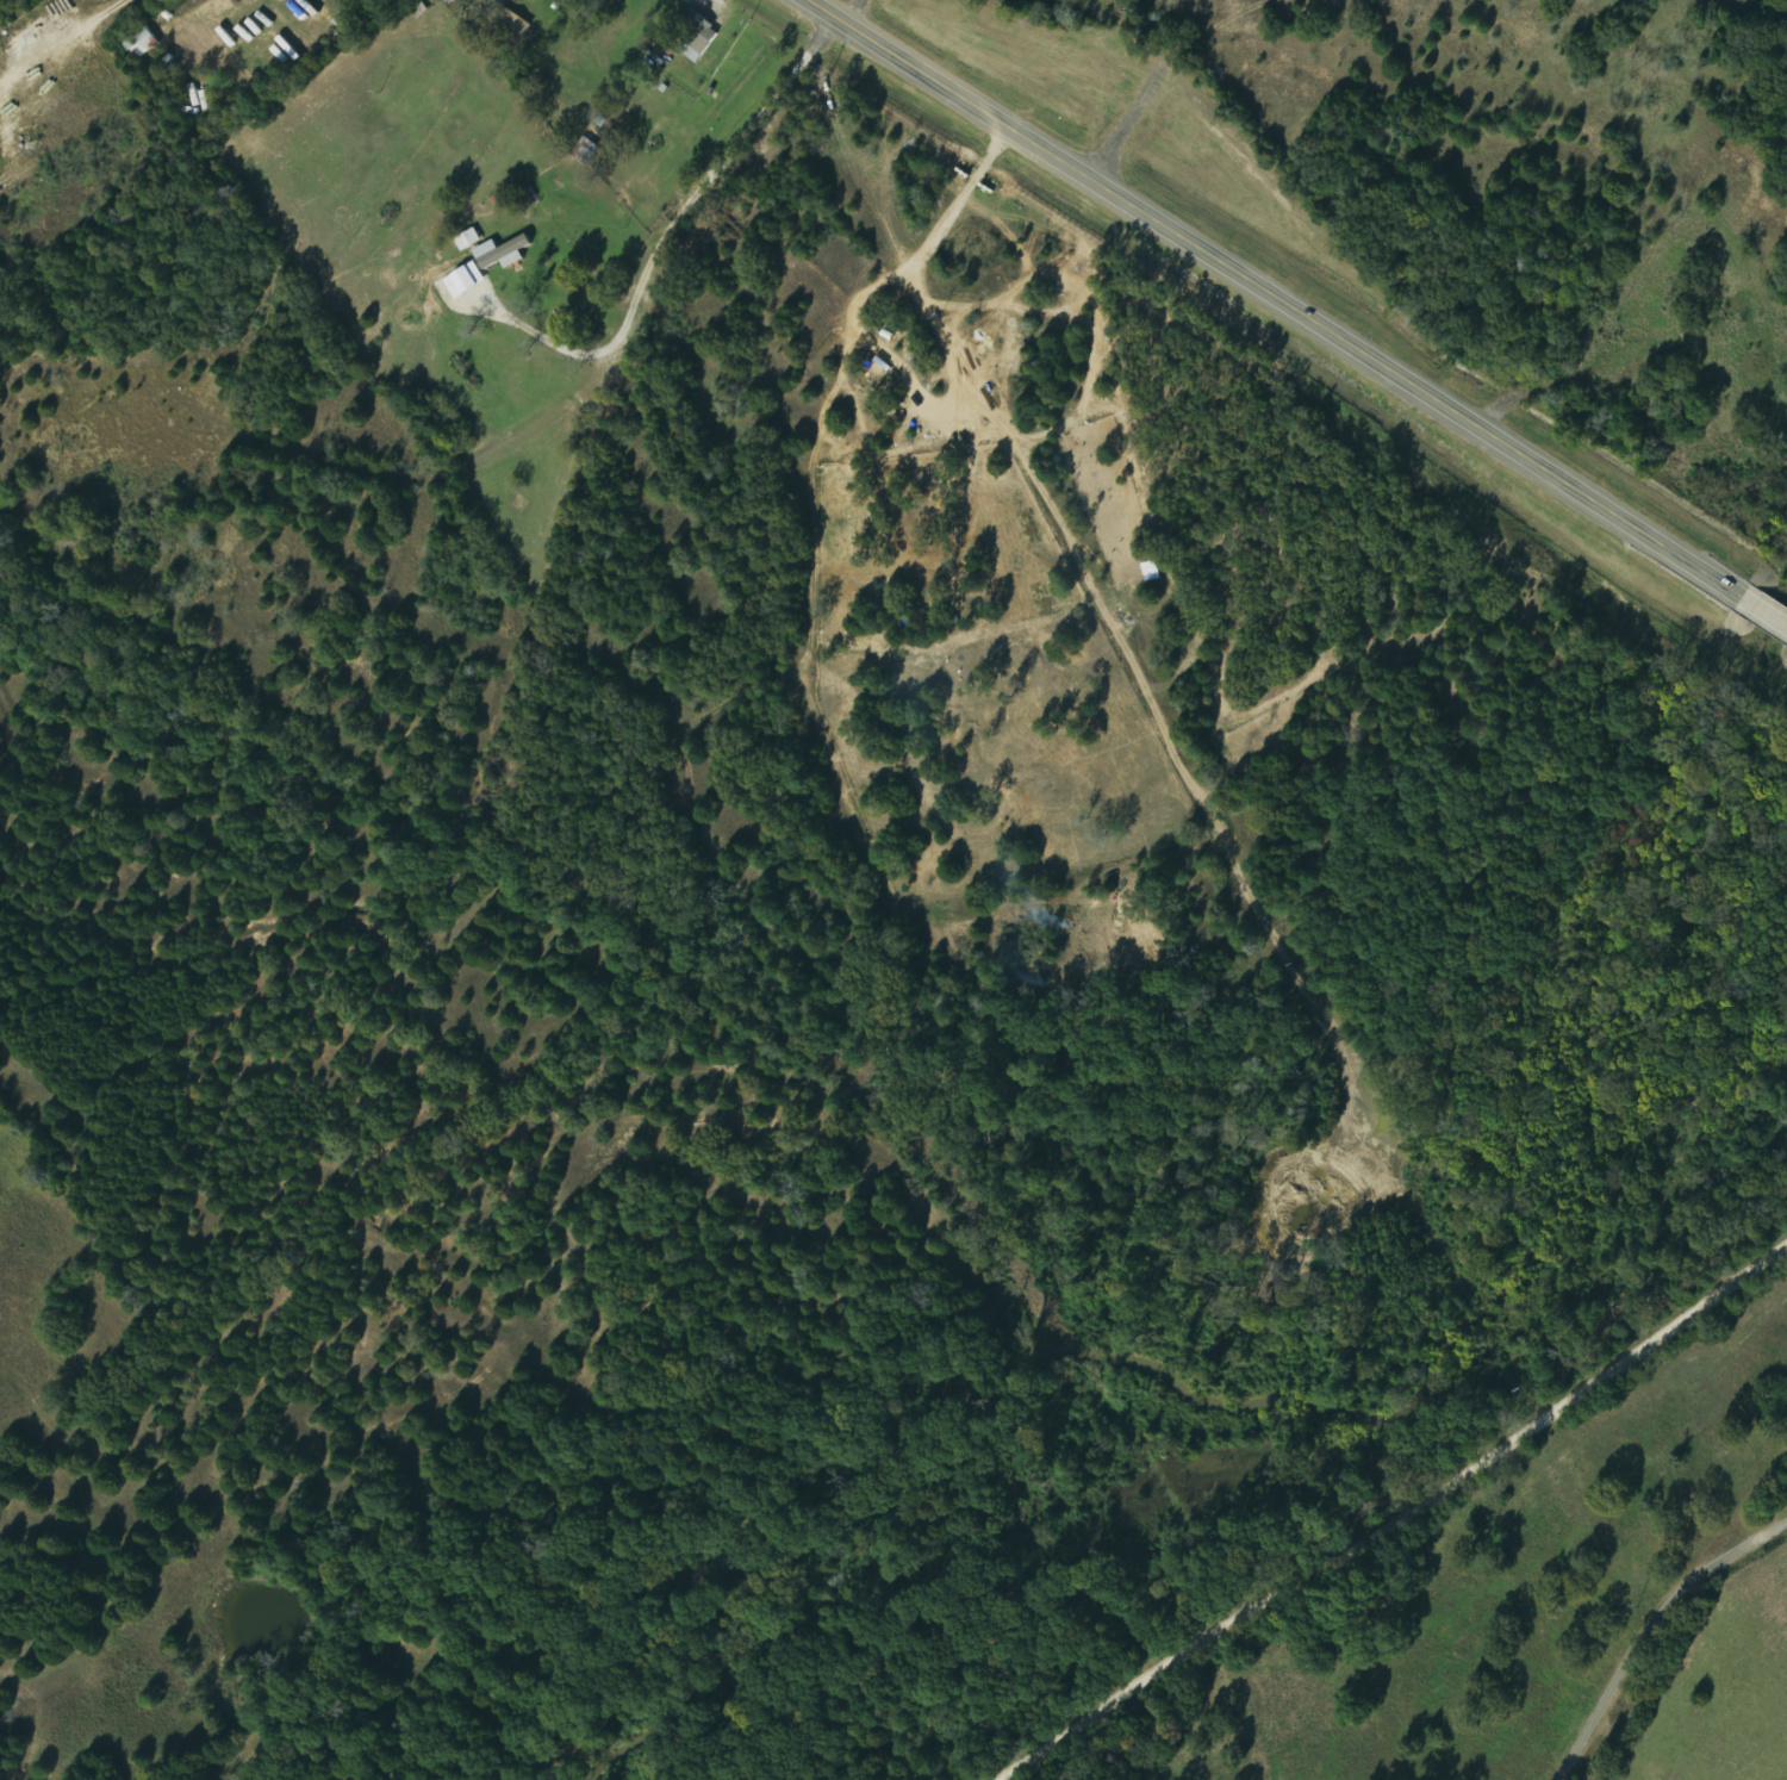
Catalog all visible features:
building: (512, 25)
building: (699, 36)
building: (145, 43)
building: (586, 150)
road: (699, 168)
building: (469, 239)
building: (505, 253)
building: (468, 280)
road: (1296, 310)
road: (1313, 571)
road: (1402, 1521)
road: (1651, 1631)

